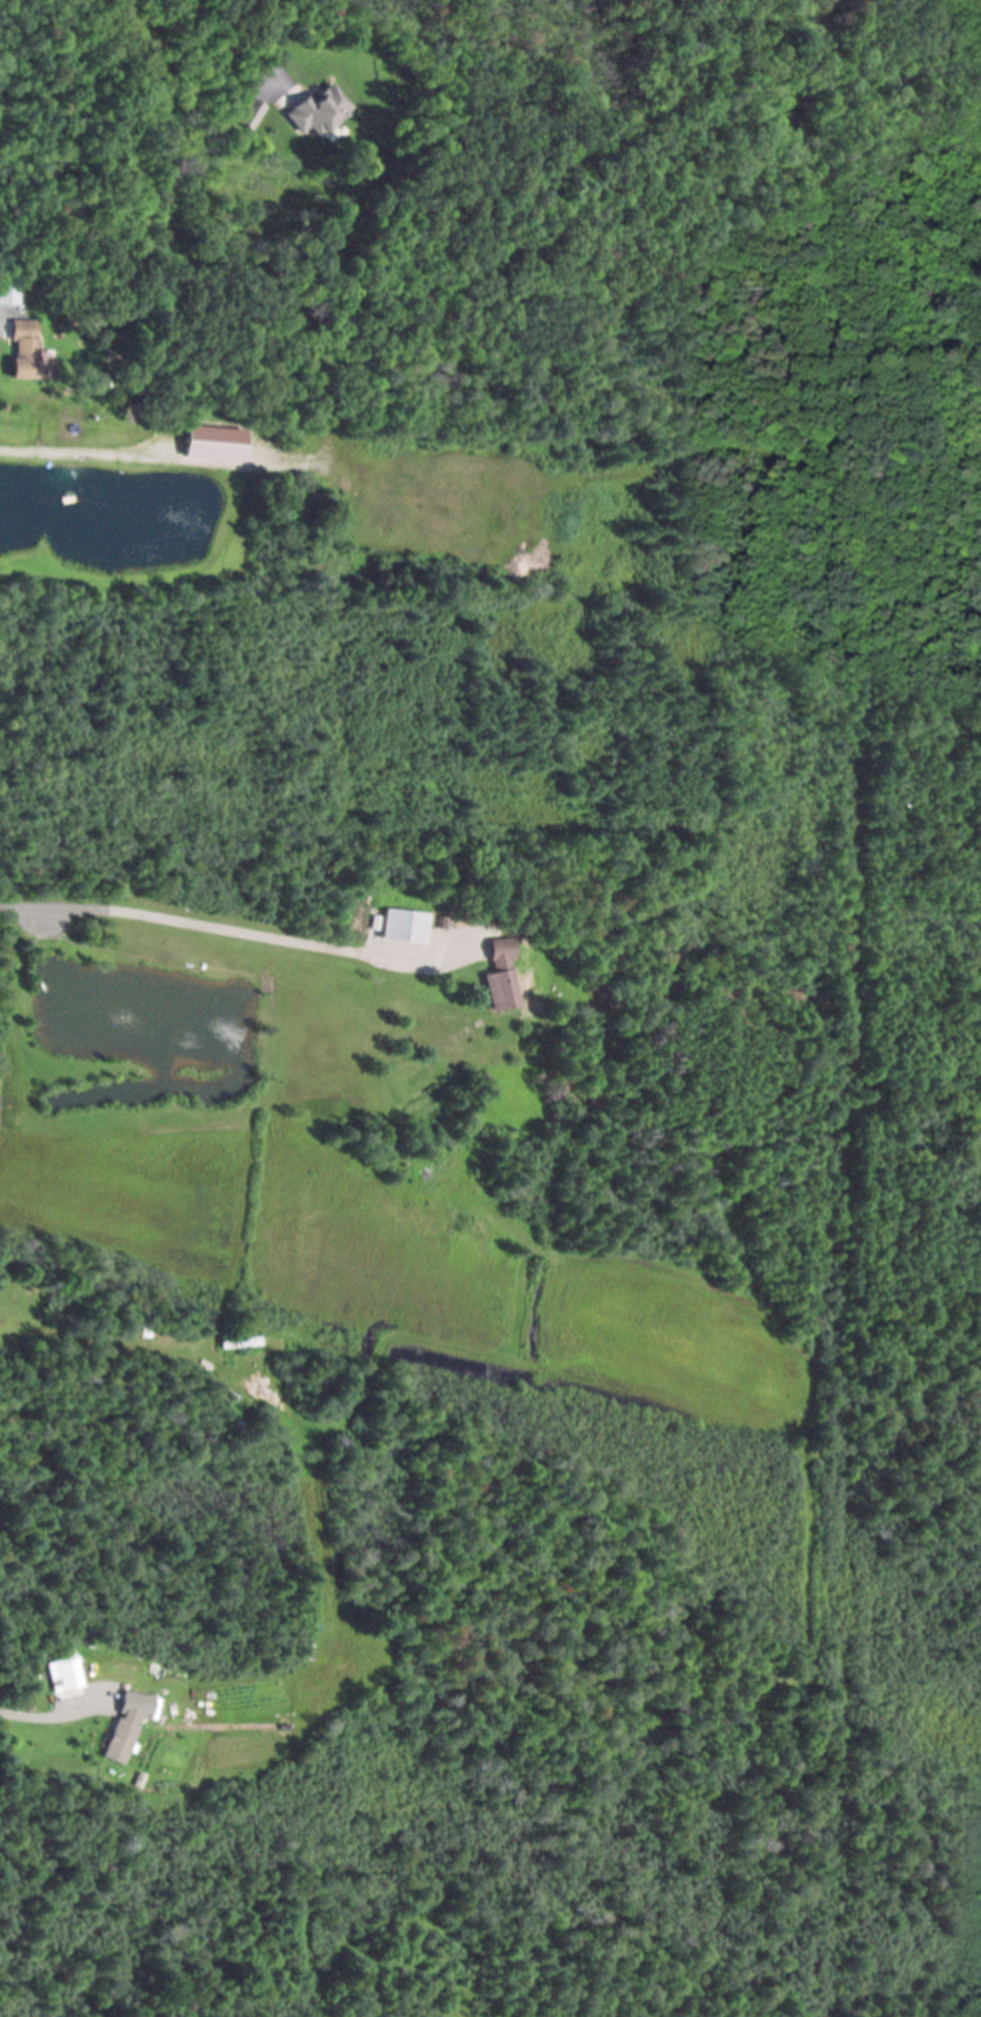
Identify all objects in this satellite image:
road: (265, 49)
building: (319, 112)
building: (250, 113)
building: (9, 289)
building: (217, 443)
road: (129, 458)
road: (201, 924)
building: (405, 927)
building: (502, 976)
building: (64, 1673)
road: (37, 1719)
building: (129, 1724)

